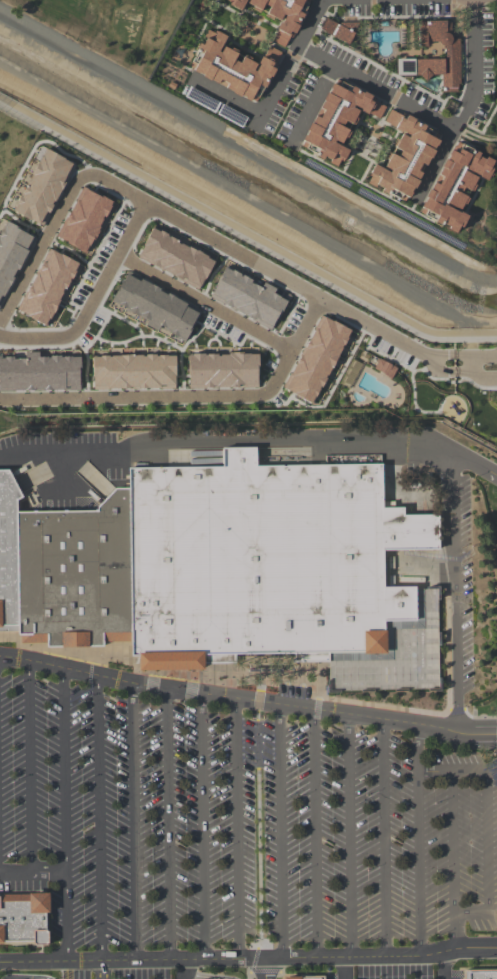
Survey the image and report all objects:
building: (236, 3)
building: (284, 16)
park: (103, 25)
building: (339, 28)
building: (451, 51)
building: (233, 65)
road: (475, 65)
road: (353, 74)
building: (201, 99)
road: (313, 103)
building: (231, 115)
road: (262, 115)
building: (337, 119)
road: (474, 136)
park: (12, 147)
building: (404, 155)
road: (435, 162)
building: (455, 184)
building: (43, 187)
building: (83, 219)
road: (244, 231)
road: (244, 237)
road: (41, 244)
building: (10, 254)
building: (174, 258)
road: (262, 267)
building: (46, 286)
building: (246, 296)
road: (91, 300)
road: (202, 301)
building: (155, 306)
building: (316, 358)
road: (465, 364)
building: (383, 367)
building: (221, 370)
building: (132, 371)
building: (39, 372)
road: (188, 400)
park: (7, 422)
road: (183, 443)
road: (377, 443)
road: (22, 458)
road: (298, 458)
road: (186, 460)
road: (465, 462)
road: (39, 471)
road: (64, 472)
road: (87, 480)
road: (390, 490)
building: (9, 555)
building: (268, 567)
road: (422, 571)
building: (76, 578)
road: (456, 595)
road: (248, 702)
road: (257, 705)
road: (382, 759)
road: (29, 768)
road: (433, 773)
road: (450, 775)
road: (64, 816)
road: (99, 819)
road: (134, 821)
road: (167, 824)
road: (201, 826)
road: (237, 829)
road: (279, 832)
road: (314, 833)
road: (350, 835)
road: (417, 840)
road: (257, 851)
road: (32, 874)
road: (384, 877)
road: (472, 916)
building: (24, 919)
road: (248, 959)
road: (441, 965)
road: (181, 968)
road: (343, 968)
road: (263, 969)
road: (102, 970)
road: (267, 971)
building: (481, 975)
road: (14, 977)
road: (194, 977)
building: (311, 978)

